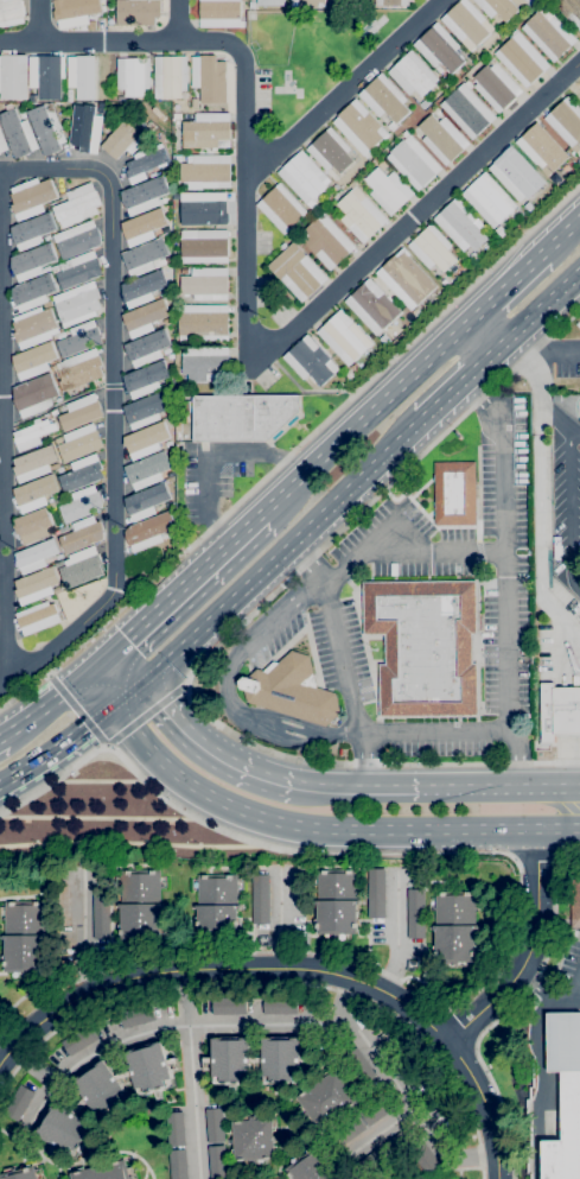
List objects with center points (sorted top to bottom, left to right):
building: (529, 1)
building: (270, 2)
building: (391, 2)
building: (251, 4)
building: (307, 4)
building: (497, 8)
building: (569, 9)
building: (11, 12)
building: (75, 12)
building: (136, 12)
building: (221, 13)
road: (38, 20)
road: (177, 20)
building: (466, 24)
building: (548, 33)
road: (88, 40)
building: (439, 49)
building: (521, 59)
building: (491, 61)
building: (82, 75)
building: (133, 75)
building: (412, 75)
building: (13, 76)
building: (47, 76)
building: (170, 76)
building: (209, 77)
building: (496, 87)
road: (342, 90)
building: (576, 93)
building: (384, 99)
building: (195, 103)
building: (425, 103)
building: (436, 112)
building: (466, 112)
building: (177, 116)
building: (566, 122)
building: (152, 125)
building: (85, 127)
building: (359, 127)
building: (46, 128)
building: (208, 131)
building: (395, 131)
building: (18, 133)
building: (126, 137)
building: (442, 139)
building: (2, 142)
building: (542, 147)
building: (331, 152)
building: (414, 161)
building: (145, 163)
building: (383, 164)
road: (53, 167)
building: (208, 170)
building: (153, 175)
building: (515, 175)
building: (304, 177)
building: (389, 190)
building: (145, 195)
building: (31, 197)
building: (489, 199)
building: (77, 204)
building: (529, 205)
building: (203, 208)
building: (281, 208)
building: (361, 214)
building: (460, 224)
building: (144, 227)
building: (32, 230)
building: (502, 230)
road: (560, 235)
building: (76, 239)
building: (330, 243)
building: (487, 245)
building: (203, 246)
building: (433, 248)
building: (145, 256)
building: (170, 259)
building: (32, 261)
building: (79, 270)
building: (185, 271)
building: (297, 271)
building: (407, 278)
building: (206, 284)
road: (506, 286)
building: (144, 287)
building: (32, 292)
building: (77, 303)
building: (47, 304)
building: (372, 306)
road: (540, 308)
building: (416, 311)
building: (145, 317)
building: (204, 322)
building: (34, 327)
road: (486, 331)
building: (60, 335)
building: (345, 337)
building: (79, 338)
road: (540, 344)
building: (148, 347)
road: (270, 350)
building: (170, 356)
building: (33, 360)
building: (311, 360)
building: (206, 363)
building: (355, 367)
building: (81, 369)
building: (350, 373)
building: (146, 379)
road: (535, 381)
road: (110, 382)
road: (458, 386)
building: (34, 395)
road: (53, 405)
building: (186, 406)
building: (146, 408)
track: (576, 408)
building: (53, 412)
building: (81, 412)
road: (365, 416)
building: (242, 417)
road: (554, 417)
road: (1, 424)
building: (32, 433)
building: (47, 438)
building: (146, 439)
building: (79, 443)
building: (168, 443)
road: (293, 449)
road: (208, 452)
road: (389, 454)
building: (33, 463)
building: (60, 469)
building: (147, 470)
building: (81, 473)
building: (170, 474)
building: (34, 493)
building: (454, 493)
building: (146, 500)
building: (82, 503)
building: (168, 503)
road: (569, 507)
building: (33, 526)
building: (148, 531)
building: (82, 534)
road: (407, 546)
road: (504, 547)
road: (538, 550)
building: (36, 554)
building: (81, 566)
road: (250, 582)
road: (184, 584)
building: (36, 585)
building: (38, 617)
road: (228, 634)
road: (60, 639)
building: (423, 646)
flagpole: (374, 649)
traffic signals: (109, 654)
road: (339, 661)
road: (97, 665)
road: (123, 670)
traffic signals: (85, 676)
traffic signals: (139, 685)
building: (291, 690)
road: (98, 691)
road: (225, 692)
road: (126, 696)
road: (44, 706)
traffic signals: (113, 708)
building: (559, 714)
road: (431, 730)
road: (1, 736)
road: (58, 749)
road: (213, 752)
road: (520, 758)
road: (578, 775)
road: (365, 790)
road: (502, 790)
road: (98, 818)
road: (325, 829)
road: (135, 844)
road: (536, 866)
building: (336, 883)
building: (140, 886)
building: (217, 889)
building: (376, 893)
building: (261, 898)
building: (575, 901)
building: (454, 907)
building: (101, 913)
building: (416, 913)
road: (505, 913)
building: (337, 917)
building: (23, 918)
building: (217, 919)
road: (280, 920)
building: (140, 921)
road: (396, 933)
road: (87, 934)
building: (454, 943)
road: (524, 950)
building: (25, 952)
road: (294, 968)
road: (276, 984)
road: (546, 990)
road: (578, 994)
building: (230, 1006)
building: (280, 1006)
road: (506, 1009)
building: (138, 1015)
road: (177, 1026)
building: (81, 1039)
road: (5, 1042)
building: (257, 1060)
building: (282, 1060)
building: (230, 1061)
road: (31, 1066)
building: (358, 1066)
building: (152, 1067)
road: (190, 1073)
building: (125, 1076)
road: (543, 1085)
road: (399, 1088)
building: (102, 1089)
building: (565, 1096)
building: (329, 1099)
building: (19, 1102)
building: (81, 1105)
building: (377, 1108)
building: (215, 1124)
road: (383, 1128)
building: (176, 1129)
building: (65, 1130)
building: (346, 1132)
building: (254, 1139)
building: (401, 1141)
building: (423, 1158)
building: (217, 1161)
building: (370, 1162)
building: (178, 1164)
building: (313, 1166)
building: (106, 1171)
building: (21, 1173)

